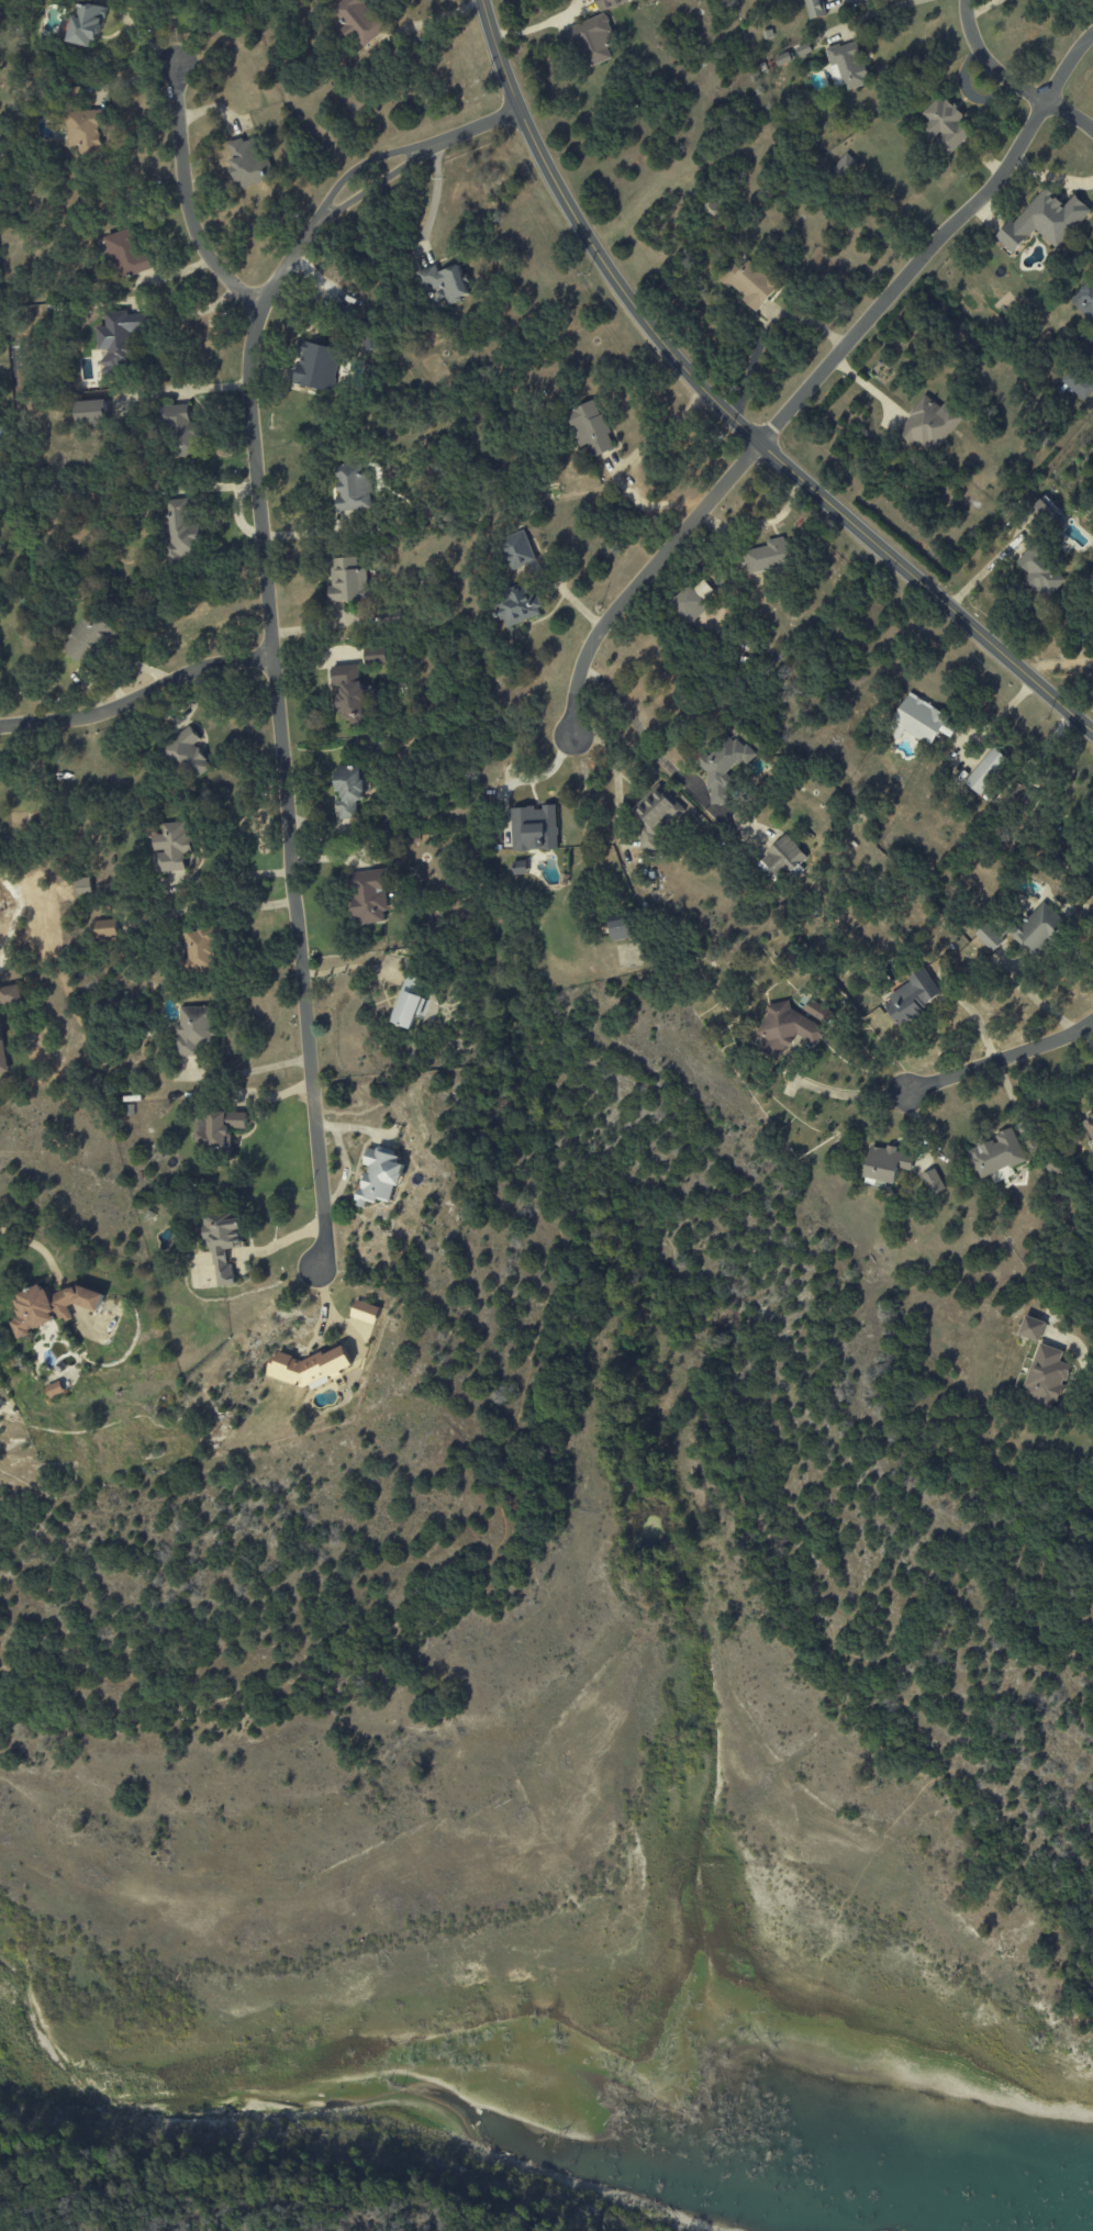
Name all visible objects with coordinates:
road: (846, 0)
building: (610, 3)
building: (815, 9)
road: (873, 13)
road: (434, 19)
building: (359, 21)
building: (86, 25)
building: (591, 40)
road: (988, 63)
building: (846, 65)
road: (1066, 66)
road: (1069, 114)
building: (944, 125)
building: (85, 131)
building: (246, 163)
building: (845, 168)
road: (1050, 175)
road: (185, 202)
building: (1044, 221)
building: (125, 255)
building: (444, 281)
building: (749, 282)
building: (1084, 301)
building: (118, 339)
building: (370, 342)
building: (316, 366)
building: (1078, 383)
road: (789, 408)
building: (91, 412)
road: (727, 413)
building: (928, 424)
building: (589, 428)
road: (661, 430)
building: (181, 431)
building: (352, 490)
building: (1044, 511)
building: (180, 529)
building: (516, 550)
building: (768, 556)
building: (1039, 573)
building: (347, 580)
building: (685, 602)
building: (516, 606)
road: (269, 620)
building: (87, 639)
building: (376, 656)
building: (349, 692)
road: (137, 696)
road: (996, 720)
building: (921, 722)
road: (651, 749)
building: (187, 755)
building: (724, 769)
building: (986, 771)
road: (524, 781)
building: (348, 790)
building: (655, 815)
building: (534, 828)
building: (170, 847)
building: (783, 858)
building: (520, 868)
building: (83, 886)
building: (368, 896)
building: (620, 929)
building: (1036, 929)
building: (107, 930)
building: (989, 937)
building: (199, 951)
building: (966, 960)
road: (350, 968)
building: (10, 994)
building: (911, 997)
building: (406, 1009)
building: (785, 1029)
building: (193, 1030)
building: (1, 1059)
road: (1001, 1060)
road: (849, 1096)
building: (215, 1130)
road: (576, 1134)
building: (995, 1154)
building: (885, 1163)
building: (379, 1176)
building: (932, 1182)
road: (27, 1239)
building: (223, 1247)
building: (49, 1306)
building: (365, 1312)
road: (331, 1314)
building: (1030, 1328)
building: (309, 1368)
road: (1088, 1373)
building: (1045, 1377)
building: (55, 1390)
park: (1060, 2005)
road: (294, 2209)

